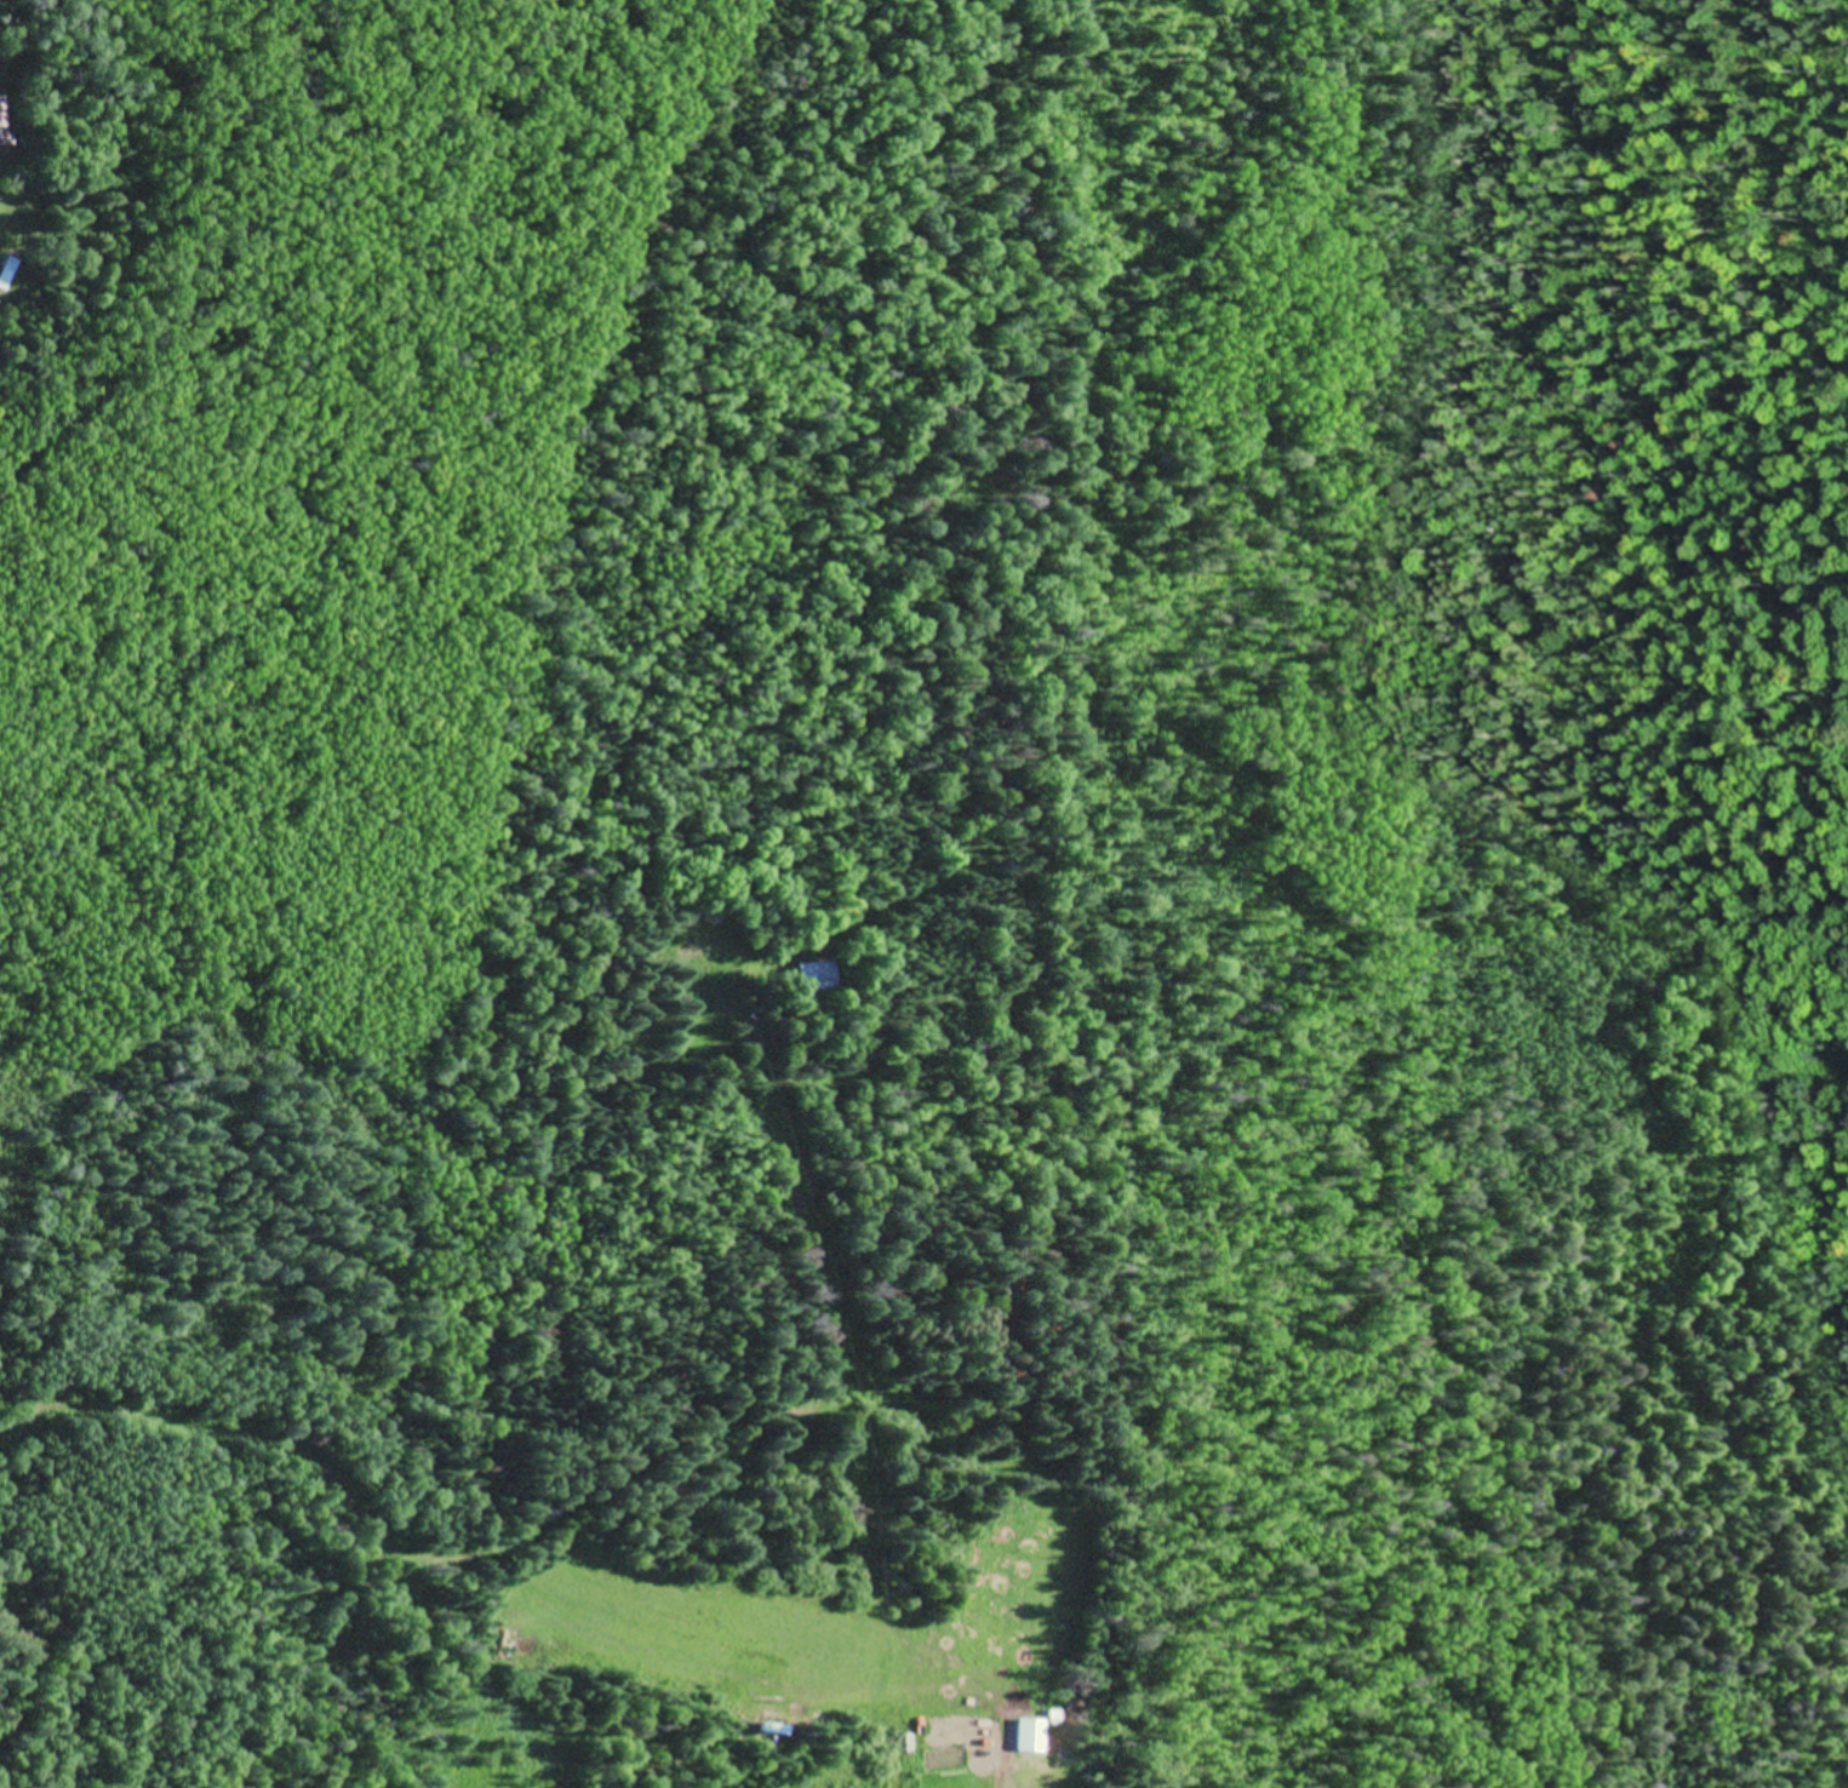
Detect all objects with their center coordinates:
building: (1, 126)
building: (0, 144)
building: (704, 945)
building: (817, 975)
building: (1029, 1732)

